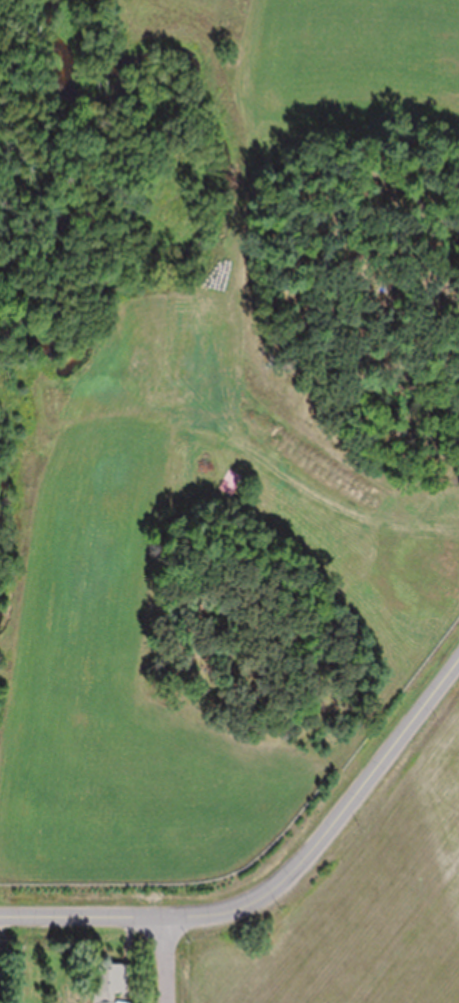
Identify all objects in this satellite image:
building: (174, 393)
building: (325, 463)
building: (425, 478)
building: (399, 481)
building: (267, 499)
building: (401, 515)
building: (334, 521)
building: (359, 551)
building: (365, 598)
road: (279, 879)
road: (166, 959)
building: (107, 983)

